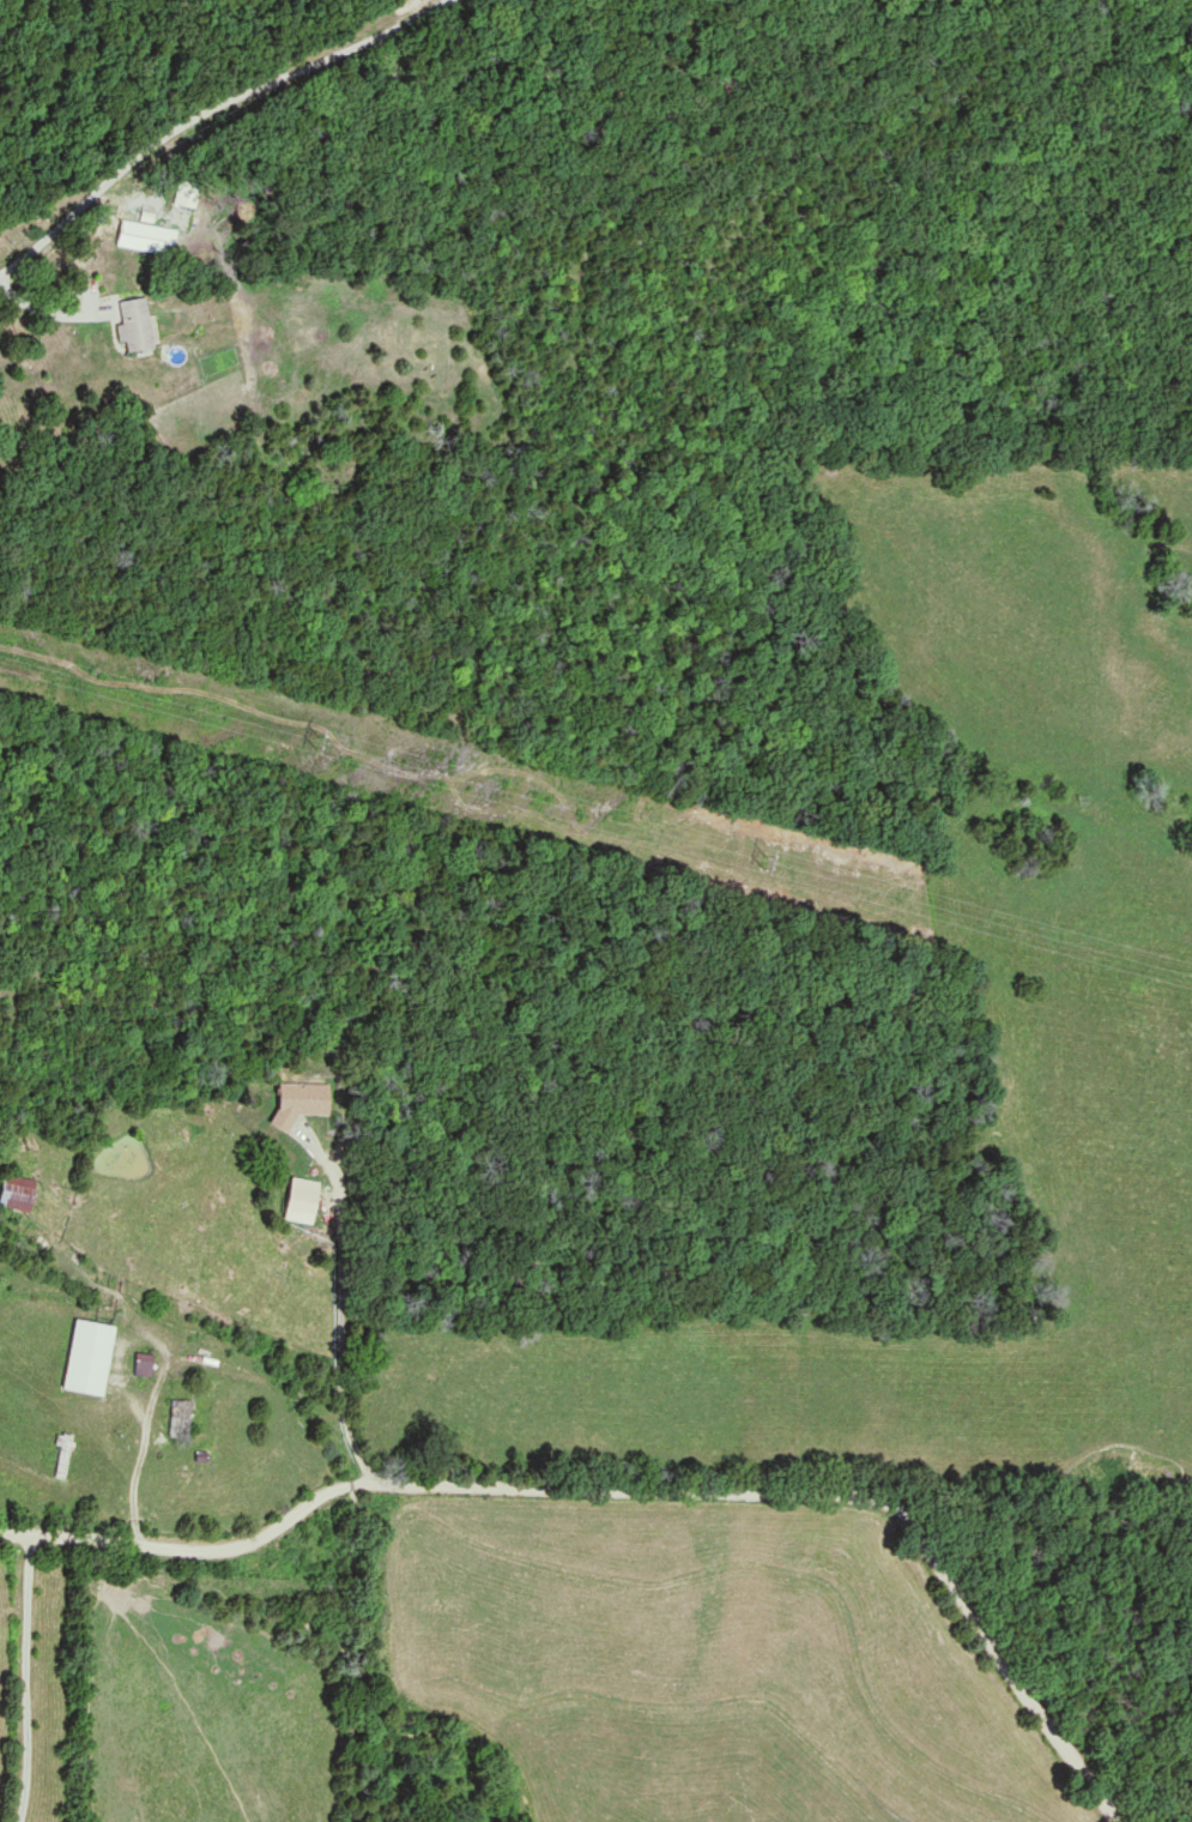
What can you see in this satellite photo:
road: (205, 116)
building: (145, 239)
building: (137, 327)
building: (299, 1102)
building: (17, 1193)
building: (85, 1358)
building: (141, 1364)
building: (177, 1416)
road: (625, 1495)

